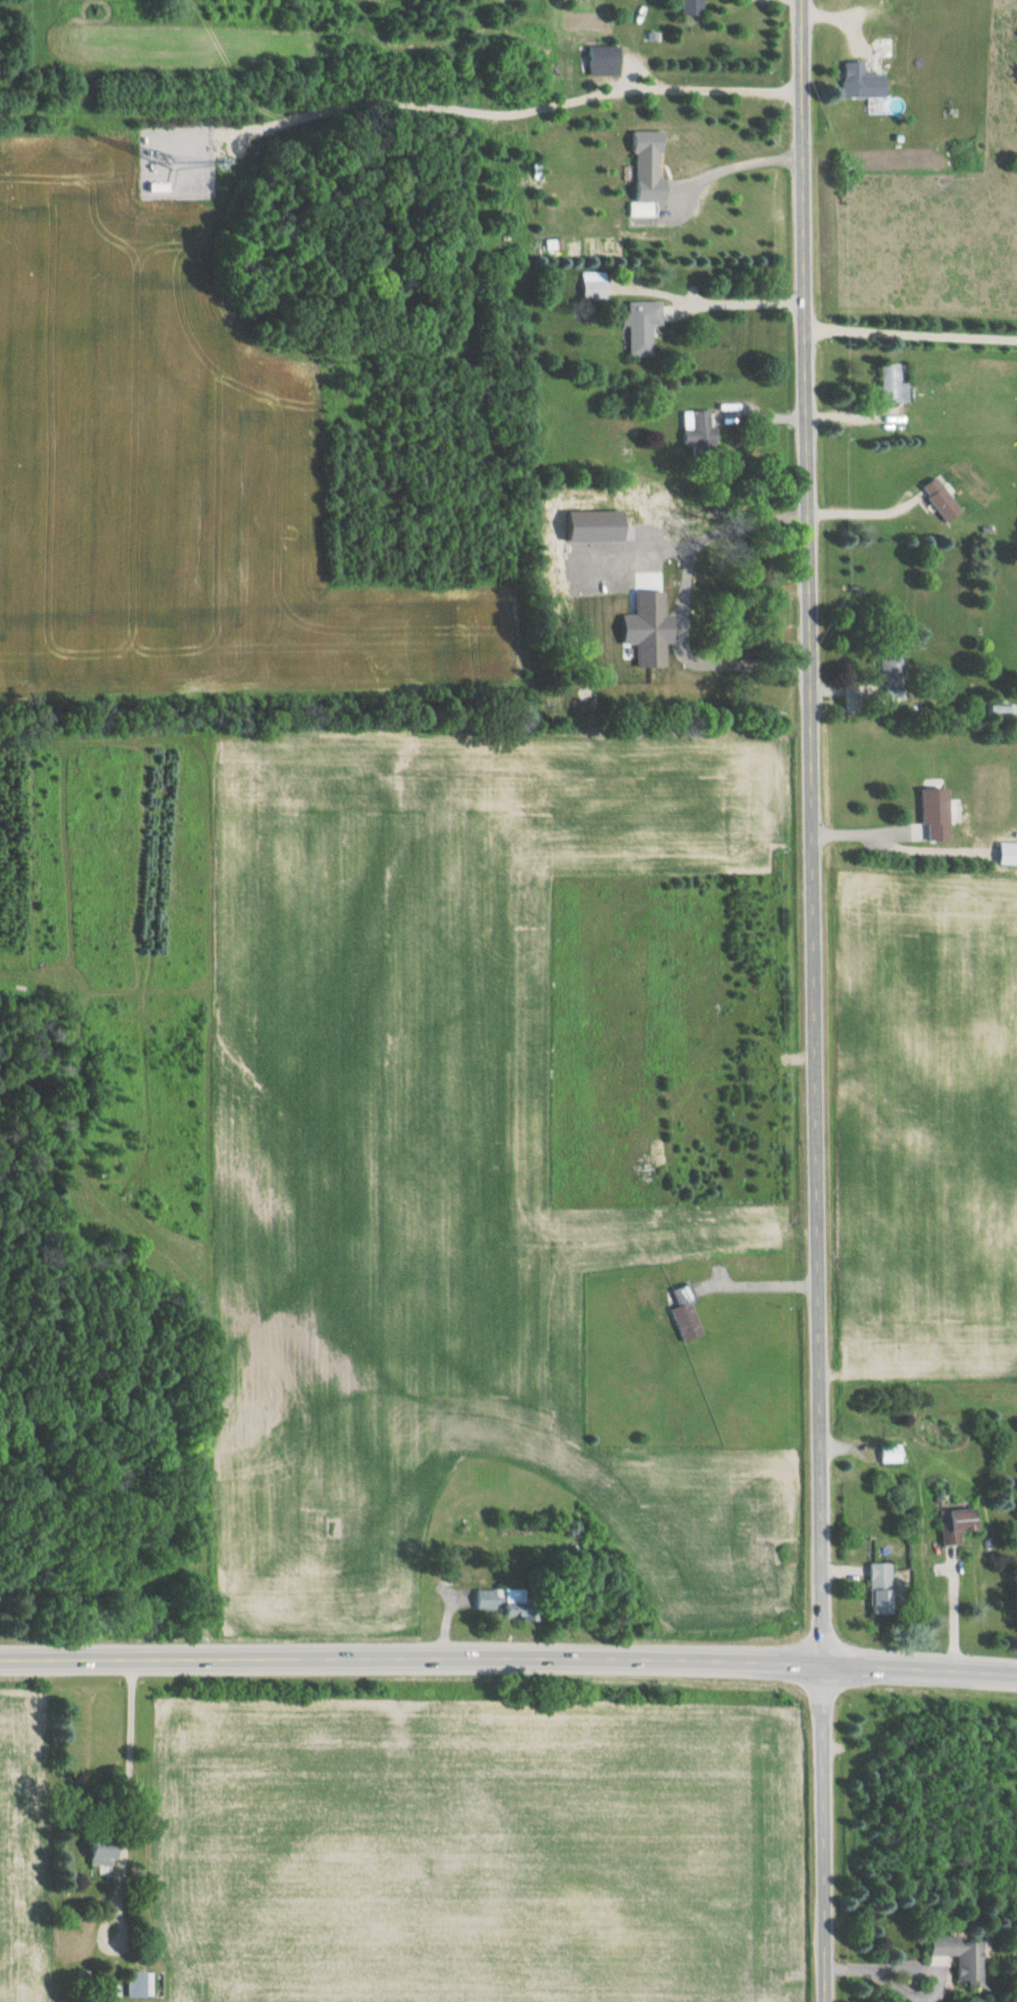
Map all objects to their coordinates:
building: (684, 7)
building: (597, 60)
building: (854, 81)
road: (678, 89)
building: (639, 165)
road: (732, 166)
building: (636, 209)
building: (599, 250)
building: (588, 289)
road: (741, 300)
building: (636, 327)
road: (911, 329)
building: (888, 385)
building: (692, 430)
building: (933, 500)
road: (866, 508)
building: (886, 660)
building: (702, 681)
building: (993, 710)
building: (923, 814)
road: (812, 1000)
road: (758, 1284)
building: (679, 1314)
building: (884, 1453)
building: (946, 1524)
building: (874, 1577)
building: (487, 1599)
road: (508, 1660)
road: (129, 1750)
building: (92, 1849)
building: (956, 1958)
building: (138, 1983)

